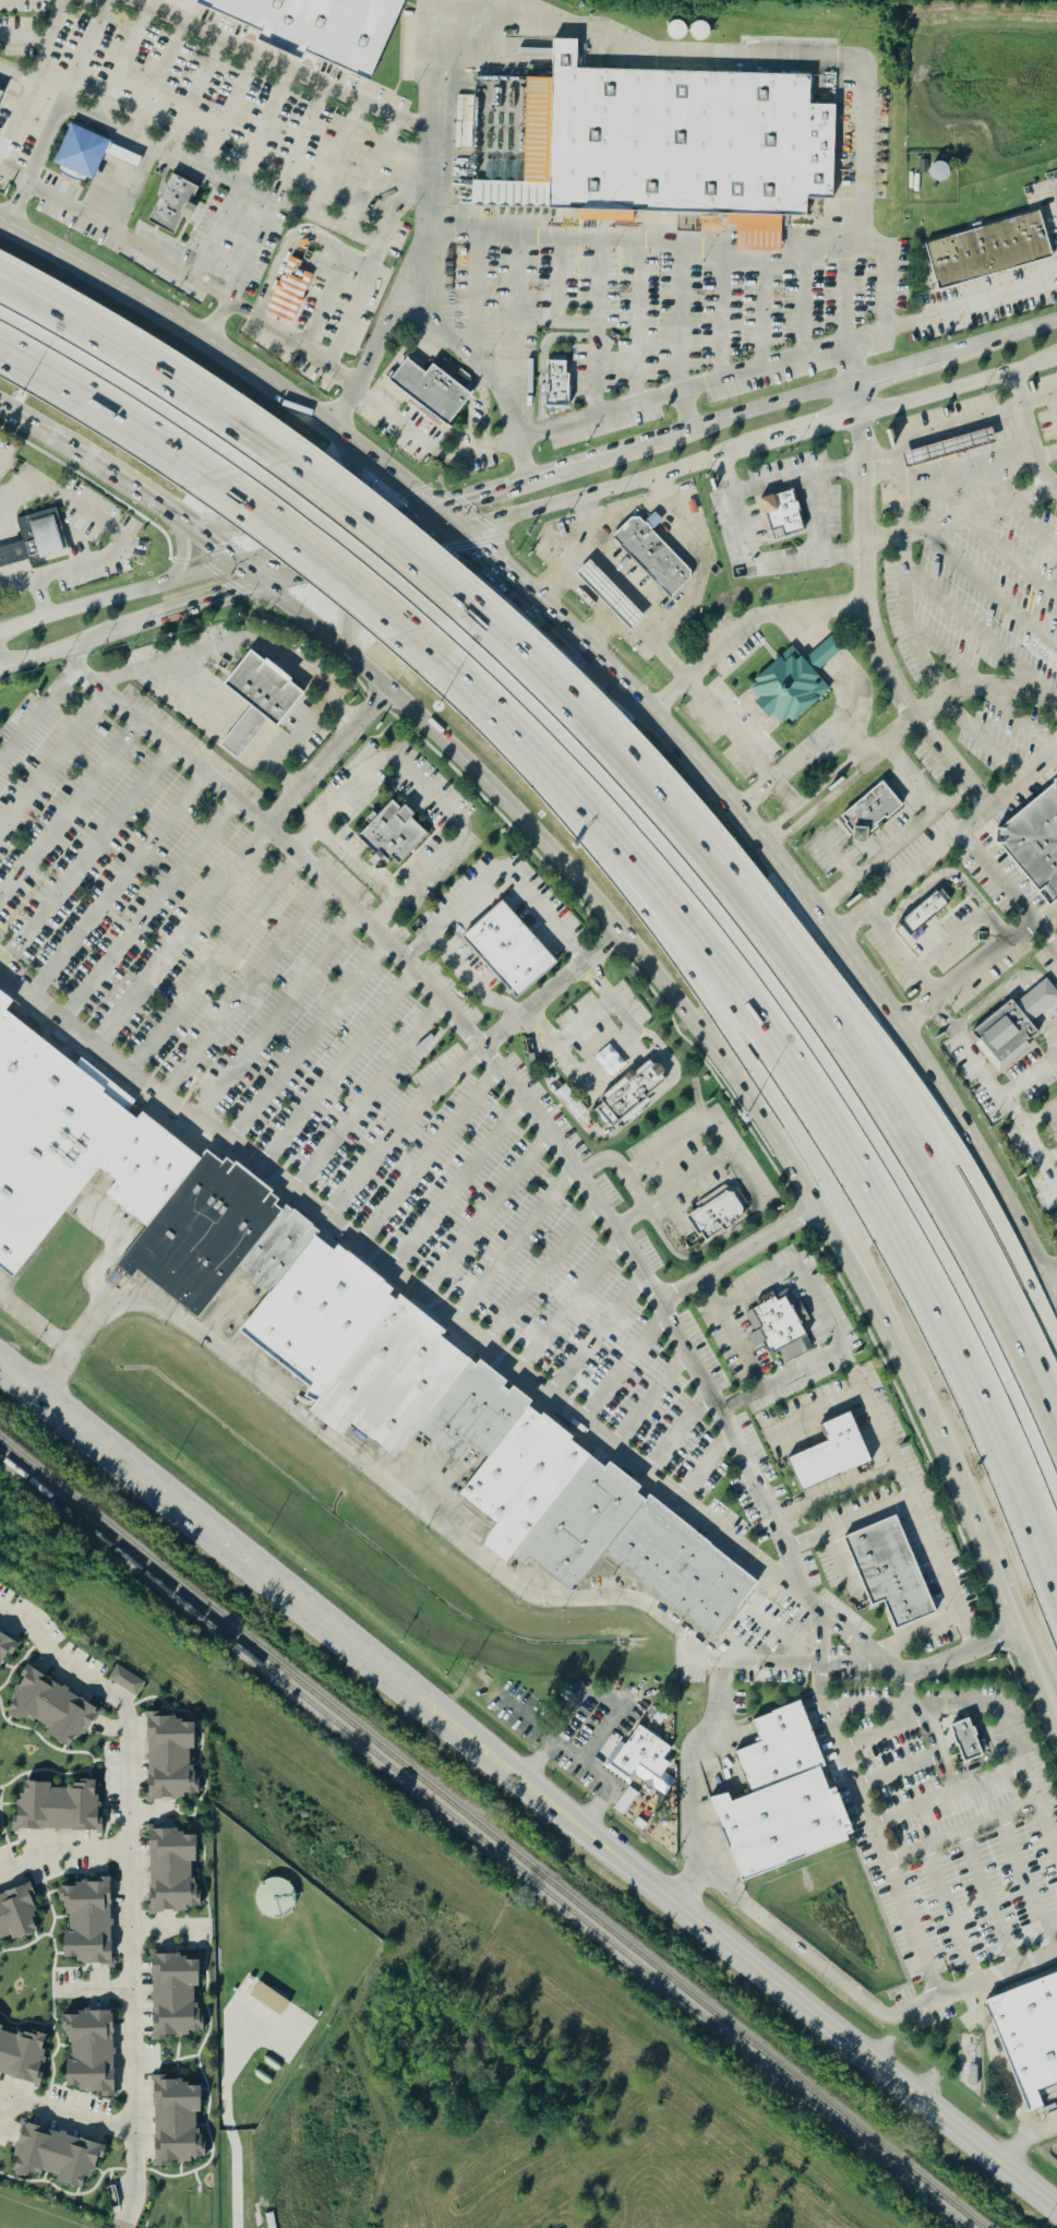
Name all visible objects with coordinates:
road: (432, 10)
building: (319, 27)
road: (122, 68)
road: (33, 78)
road: (156, 83)
building: (0, 95)
road: (864, 95)
road: (230, 108)
road: (57, 110)
road: (266, 123)
road: (428, 123)
road: (303, 141)
building: (684, 142)
road: (169, 146)
building: (80, 154)
road: (336, 155)
building: (121, 157)
road: (373, 171)
road: (13, 175)
road: (131, 189)
building: (171, 205)
road: (399, 207)
road: (336, 225)
road: (219, 228)
road: (252, 247)
road: (285, 247)
road: (147, 248)
building: (986, 252)
road: (359, 260)
building: (287, 291)
road: (844, 291)
road: (475, 296)
road: (558, 298)
road: (884, 300)
road: (323, 301)
road: (970, 306)
road: (801, 308)
road: (765, 312)
road: (684, 313)
road: (721, 318)
road: (516, 320)
road: (639, 320)
road: (597, 325)
road: (291, 341)
road: (1001, 341)
road: (228, 348)
road: (782, 359)
road: (143, 360)
road: (900, 371)
road: (487, 377)
building: (557, 384)
road: (961, 386)
building: (430, 390)
road: (860, 400)
road: (1037, 401)
road: (116, 404)
road: (1014, 416)
road: (37, 429)
road: (817, 429)
road: (1028, 432)
road: (685, 434)
road: (532, 436)
road: (1018, 442)
building: (948, 448)
road: (5, 458)
road: (105, 469)
road: (615, 487)
road: (14, 491)
road: (477, 497)
road: (158, 502)
road: (903, 505)
traffic signals: (437, 509)
building: (780, 514)
road: (299, 519)
road: (451, 519)
road: (959, 519)
building: (653, 521)
road: (185, 524)
road: (1033, 524)
traffic signals: (464, 528)
road: (382, 531)
road: (341, 537)
building: (33, 539)
road: (131, 545)
road: (219, 547)
road: (485, 547)
road: (184, 550)
road: (331, 552)
building: (652, 553)
road: (758, 556)
road: (1012, 556)
road: (370, 559)
traffic signals: (245, 565)
road: (261, 577)
road: (407, 581)
road: (690, 583)
road: (570, 584)
road: (549, 585)
road: (989, 589)
traffic signals: (276, 591)
building: (610, 593)
gas station: (610, 593)
road: (122, 596)
road: (545, 603)
road: (743, 623)
road: (873, 628)
road: (137, 629)
road: (917, 634)
road: (977, 636)
road: (279, 647)
building: (824, 652)
road: (951, 660)
road: (838, 669)
road: (465, 672)
building: (788, 684)
road: (1004, 684)
building: (256, 704)
road: (37, 713)
road: (1016, 716)
road: (731, 727)
road: (982, 737)
road: (825, 744)
road: (875, 748)
road: (1052, 752)
road: (327, 755)
road: (56, 763)
road: (912, 777)
road: (1009, 785)
road: (429, 788)
road: (654, 791)
road: (69, 807)
building: (870, 810)
building: (392, 833)
road: (960, 833)
road: (773, 834)
building: (1034, 841)
road: (898, 846)
road: (91, 856)
road: (497, 871)
road: (120, 884)
road: (593, 896)
road: (24, 902)
road: (151, 909)
building: (926, 913)
road: (1046, 917)
road: (180, 934)
road: (850, 943)
building: (507, 950)
road: (898, 954)
road: (218, 966)
road: (689, 974)
road: (600, 975)
road: (591, 982)
road: (552, 987)
road: (247, 990)
road: (932, 999)
building: (1037, 999)
road: (915, 1010)
road: (279, 1013)
road: (578, 1020)
road: (534, 1028)
building: (1004, 1034)
road: (311, 1041)
road: (485, 1052)
road: (338, 1067)
road: (1032, 1077)
building: (628, 1094)
road: (370, 1097)
road: (826, 1100)
road: (640, 1112)
road: (1040, 1116)
road: (398, 1125)
road: (1023, 1128)
road: (721, 1134)
road: (953, 1145)
road: (428, 1155)
road: (1049, 1155)
road: (1049, 1170)
road: (743, 1180)
road: (456, 1183)
road: (630, 1186)
road: (947, 1210)
road: (483, 1213)
building: (716, 1215)
road: (513, 1244)
road: (697, 1251)
road: (112, 1252)
road: (738, 1252)
road: (539, 1271)
road: (1054, 1278)
road: (570, 1303)
road: (821, 1310)
road: (35, 1322)
building: (329, 1327)
building: (776, 1329)
road: (596, 1333)
road: (892, 1338)
road: (741, 1347)
road: (499, 1353)
road: (623, 1365)
road: (649, 1395)
road: (868, 1399)
road: (678, 1432)
building: (829, 1454)
road: (707, 1467)
road: (834, 1492)
road: (906, 1497)
road: (421, 1511)
road: (213, 1532)
road: (994, 1569)
building: (889, 1571)
road: (916, 1634)
building: (8, 1642)
building: (127, 1680)
road: (867, 1706)
building: (52, 1707)
road: (929, 1727)
road: (881, 1732)
building: (964, 1742)
road: (1013, 1743)
road: (987, 1752)
building: (170, 1758)
building: (641, 1759)
road: (587, 1761)
road: (898, 1771)
road: (530, 1785)
road: (946, 1795)
building: (780, 1798)
building: (58, 1808)
road: (864, 1808)
road: (960, 1832)
railway: (490, 1836)
railway: (481, 1842)
road: (63, 1850)
road: (131, 1866)
building: (172, 1871)
railway: (444, 1873)
road: (689, 1881)
road: (1025, 1884)
road: (988, 1899)
road: (950, 1914)
building: (17, 1915)
building: (87, 1921)
road: (168, 1931)
road: (780, 1931)
road: (98, 1987)
building: (175, 1995)
building: (269, 1999)
road: (845, 2036)
building: (1028, 2037)
building: (91, 2052)
building: (21, 2056)
road: (996, 2062)
road: (67, 2111)
building: (176, 2122)
road: (1024, 2138)
building: (57, 2156)
road: (128, 2208)

